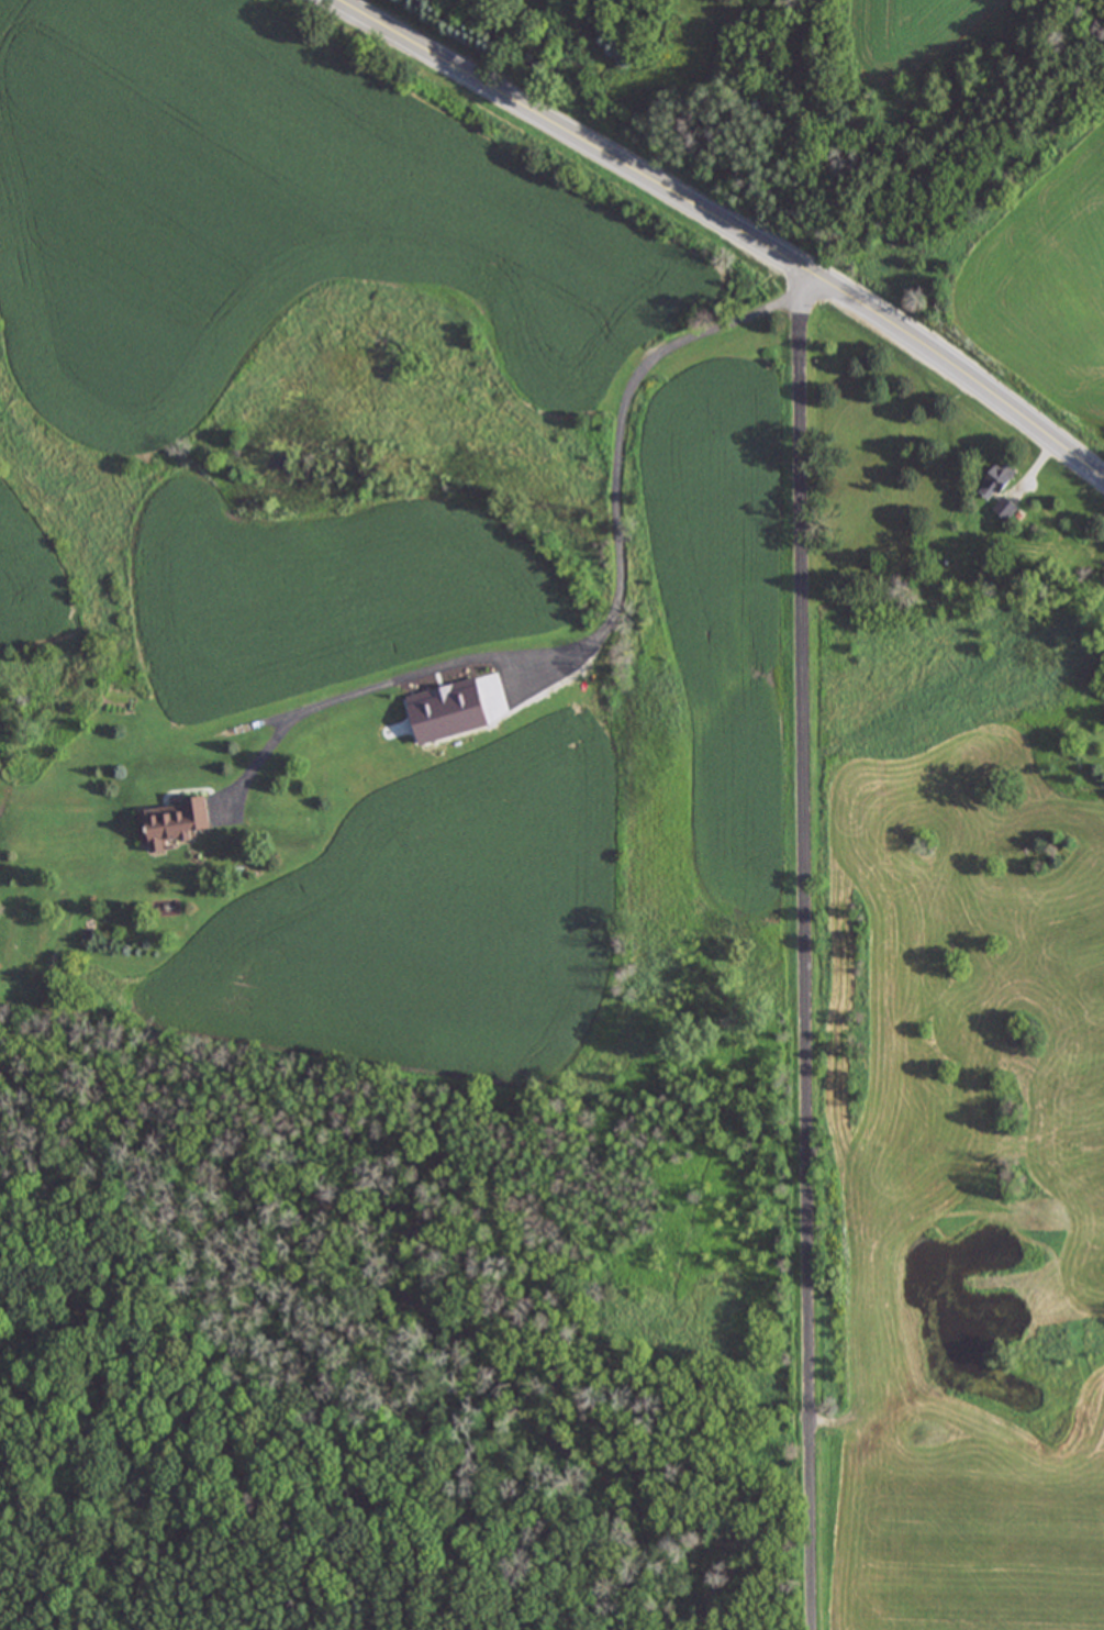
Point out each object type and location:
road: (731, 221)
building: (995, 480)
building: (1005, 508)
road: (617, 605)
road: (258, 763)
road: (801, 944)

